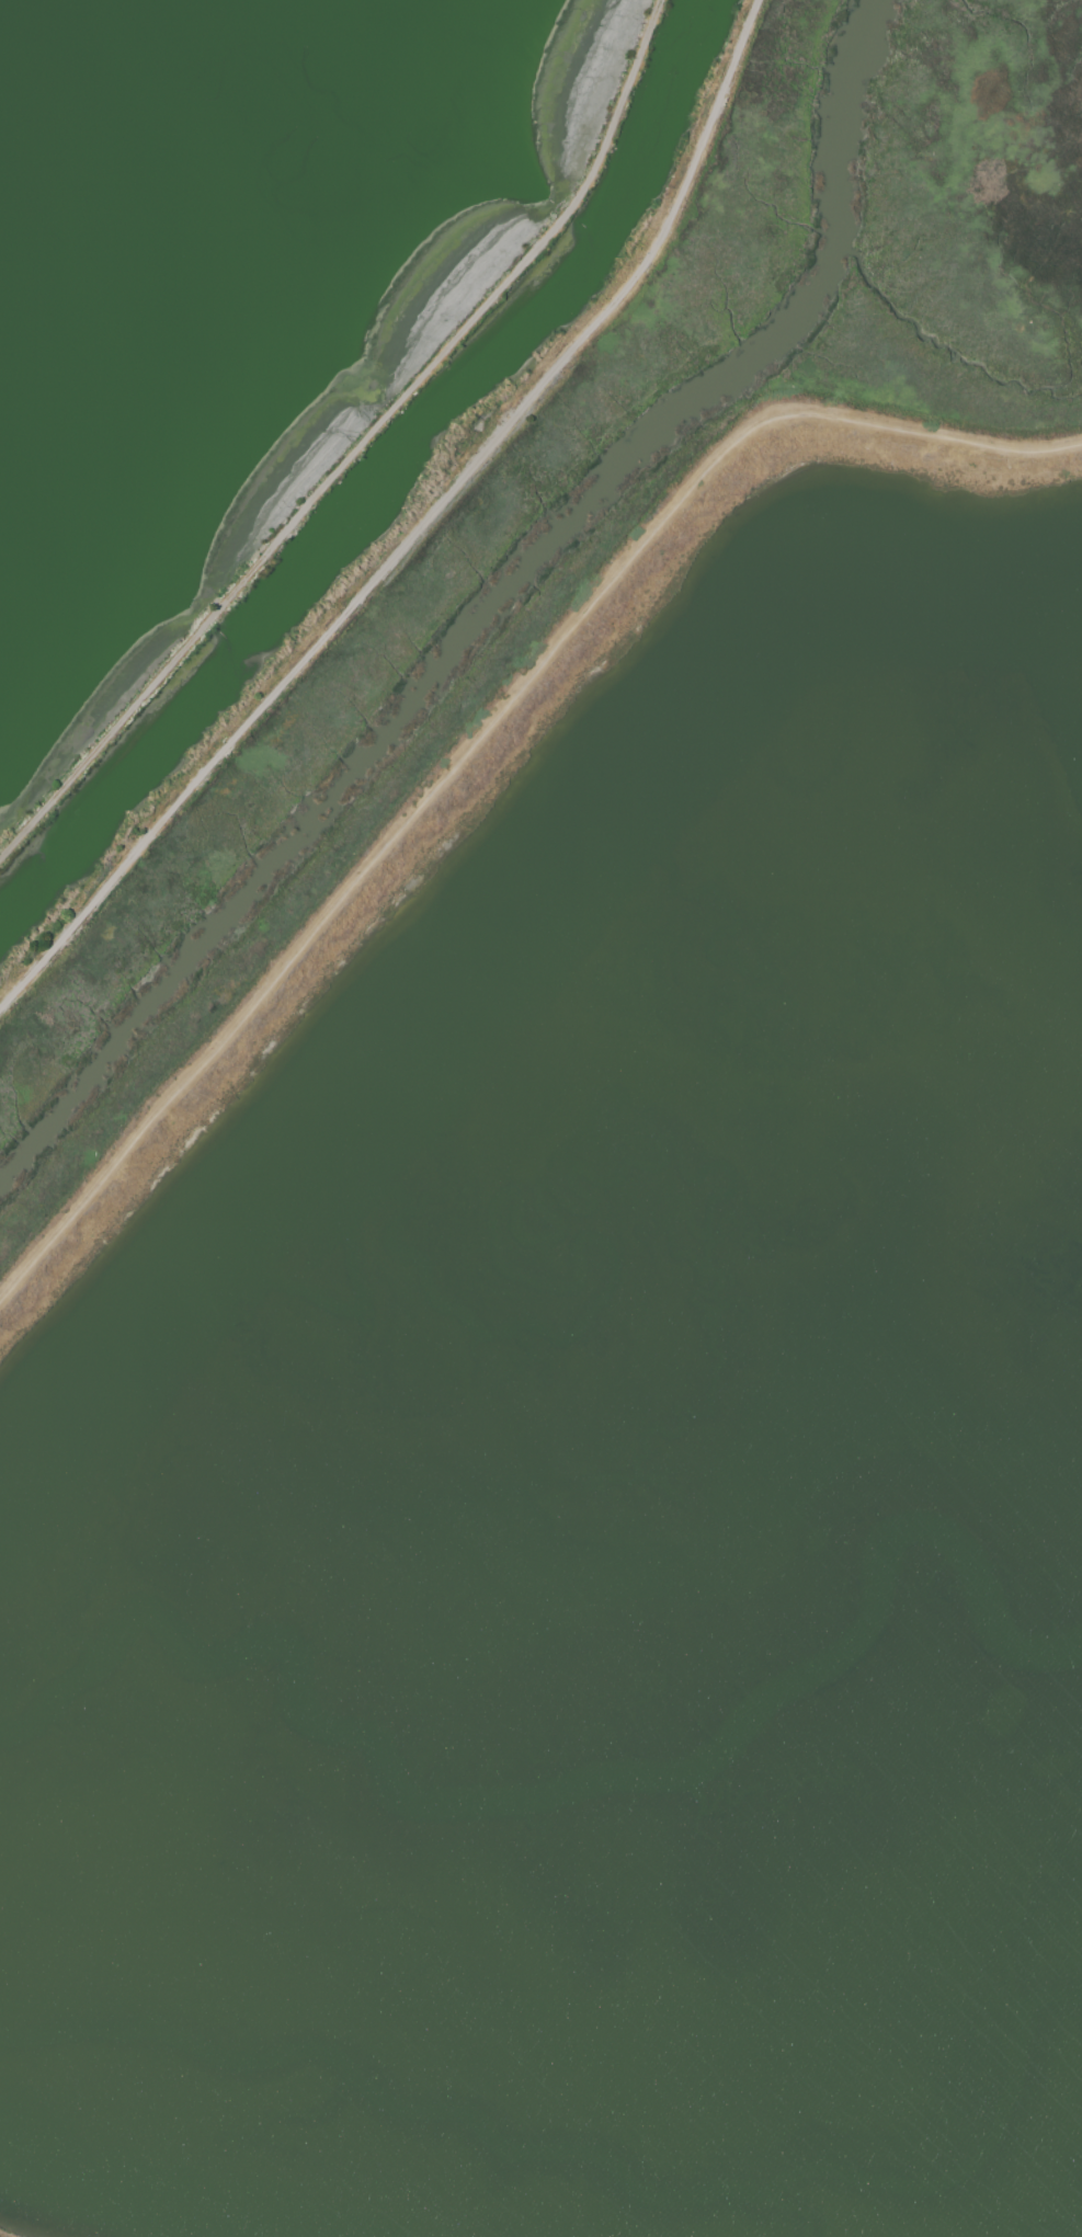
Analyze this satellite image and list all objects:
road: (361, 446)
road: (421, 535)
road: (481, 733)

